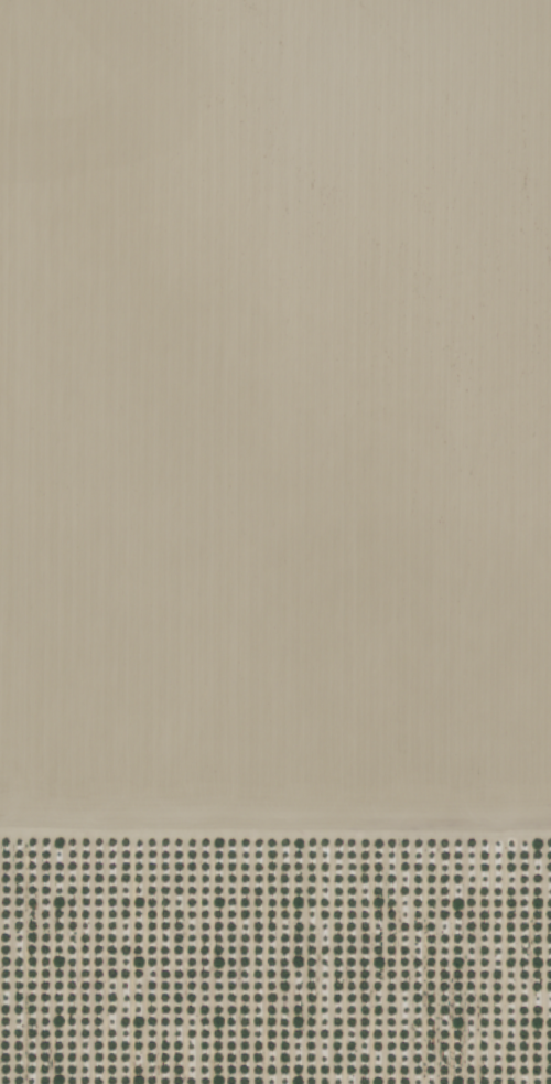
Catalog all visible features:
road: (41, 541)

